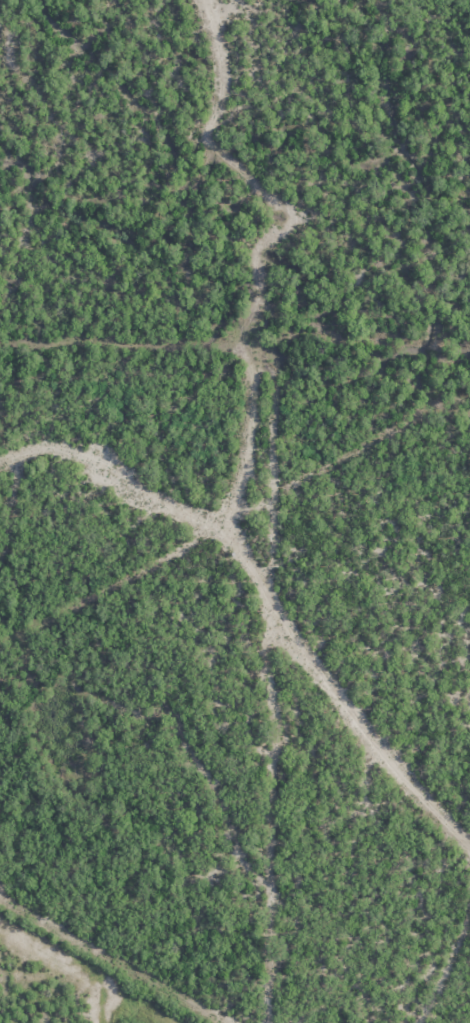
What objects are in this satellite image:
road: (106, 967)

